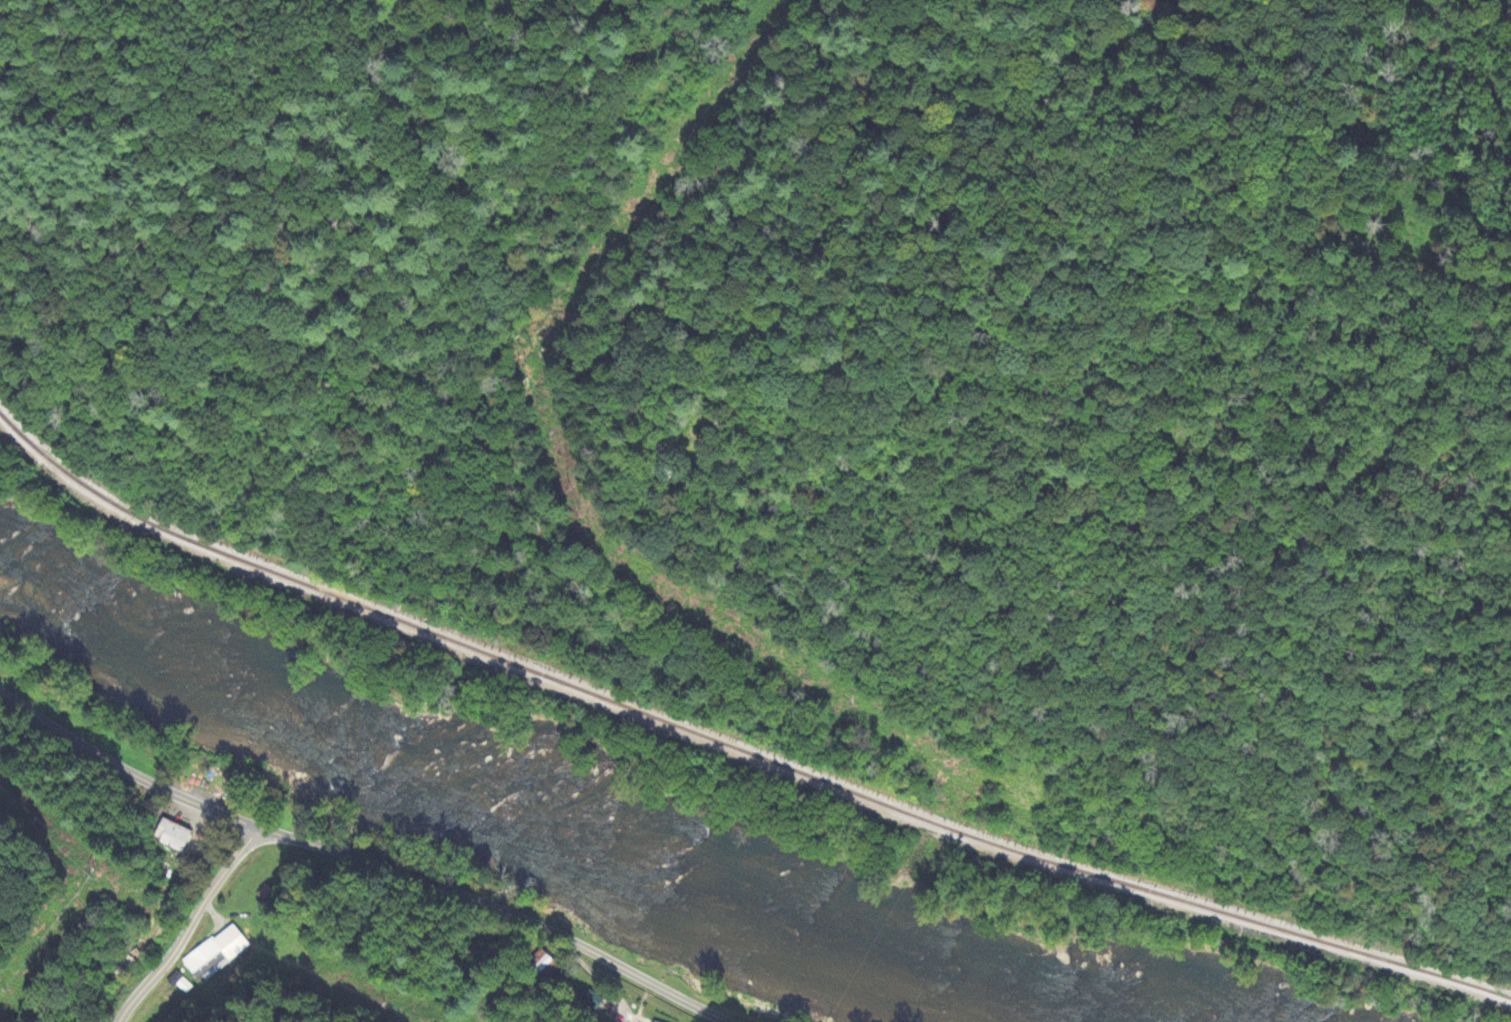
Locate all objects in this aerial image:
railway: (734, 748)
road: (123, 769)
river: (521, 808)
building: (172, 836)
building: (265, 895)
road: (498, 909)
road: (188, 925)
building: (205, 963)
building: (592, 1002)

